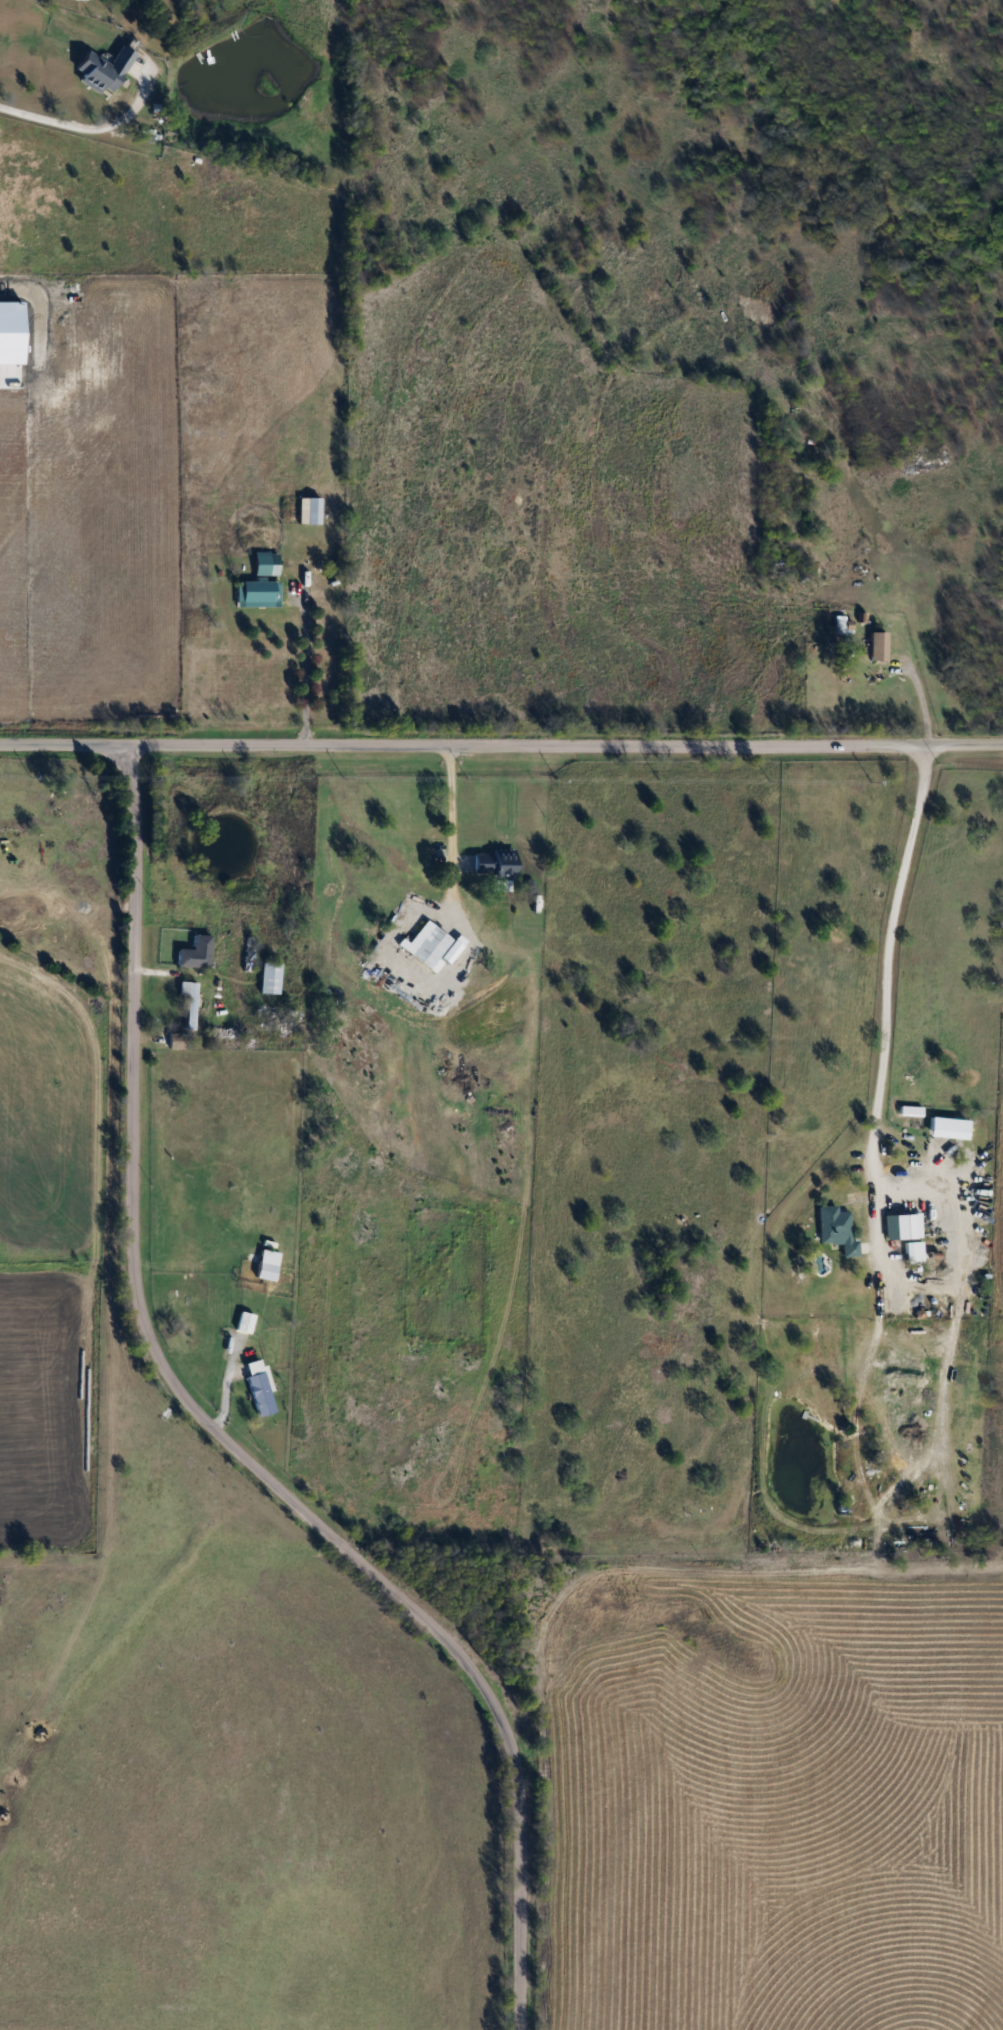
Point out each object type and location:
building: (102, 68)
road: (53, 127)
building: (307, 510)
building: (264, 563)
building: (256, 594)
building: (842, 623)
building: (875, 647)
building: (852, 662)
road: (305, 670)
road: (501, 747)
road: (451, 799)
building: (80, 810)
building: (491, 865)
building: (426, 946)
building: (193, 953)
building: (246, 954)
building: (268, 978)
building: (189, 1004)
building: (225, 1033)
building: (908, 1111)
building: (945, 1125)
road: (873, 1129)
building: (900, 1227)
building: (834, 1230)
building: (910, 1252)
building: (265, 1265)
building: (242, 1323)
road: (946, 1377)
building: (256, 1389)
road: (218, 1436)

